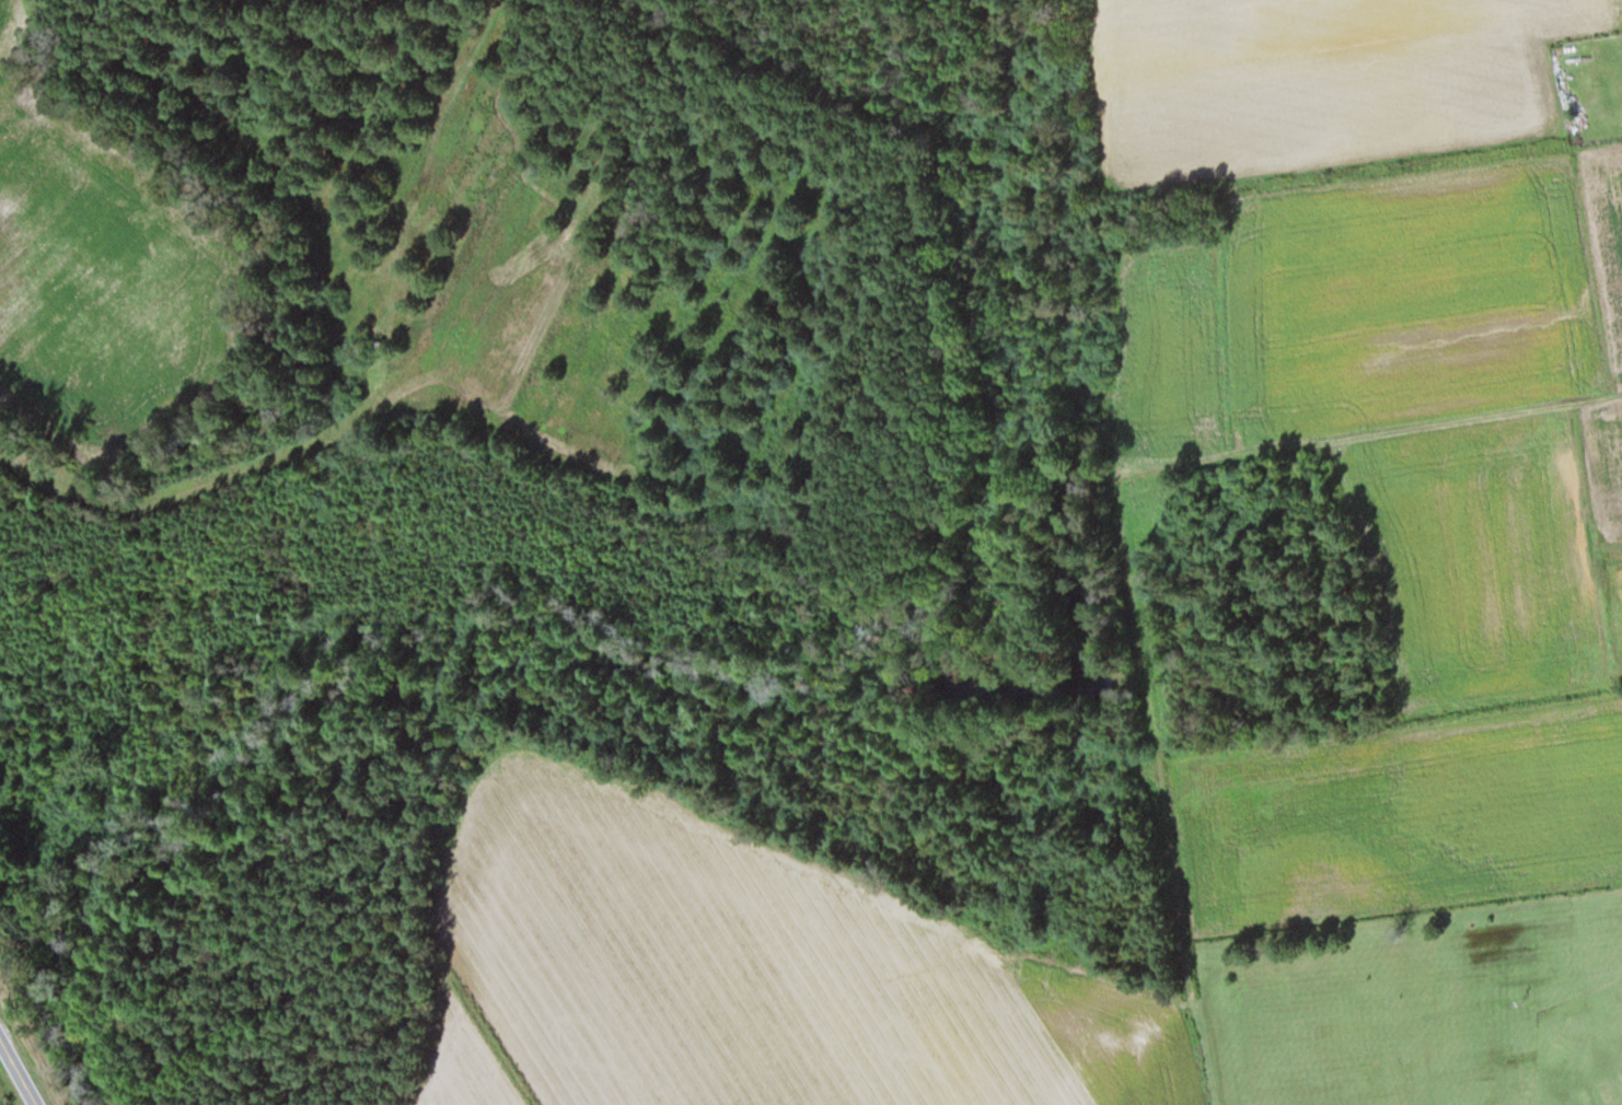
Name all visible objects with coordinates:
road: (18, 462)
building: (610, 1021)
road: (16, 1073)

